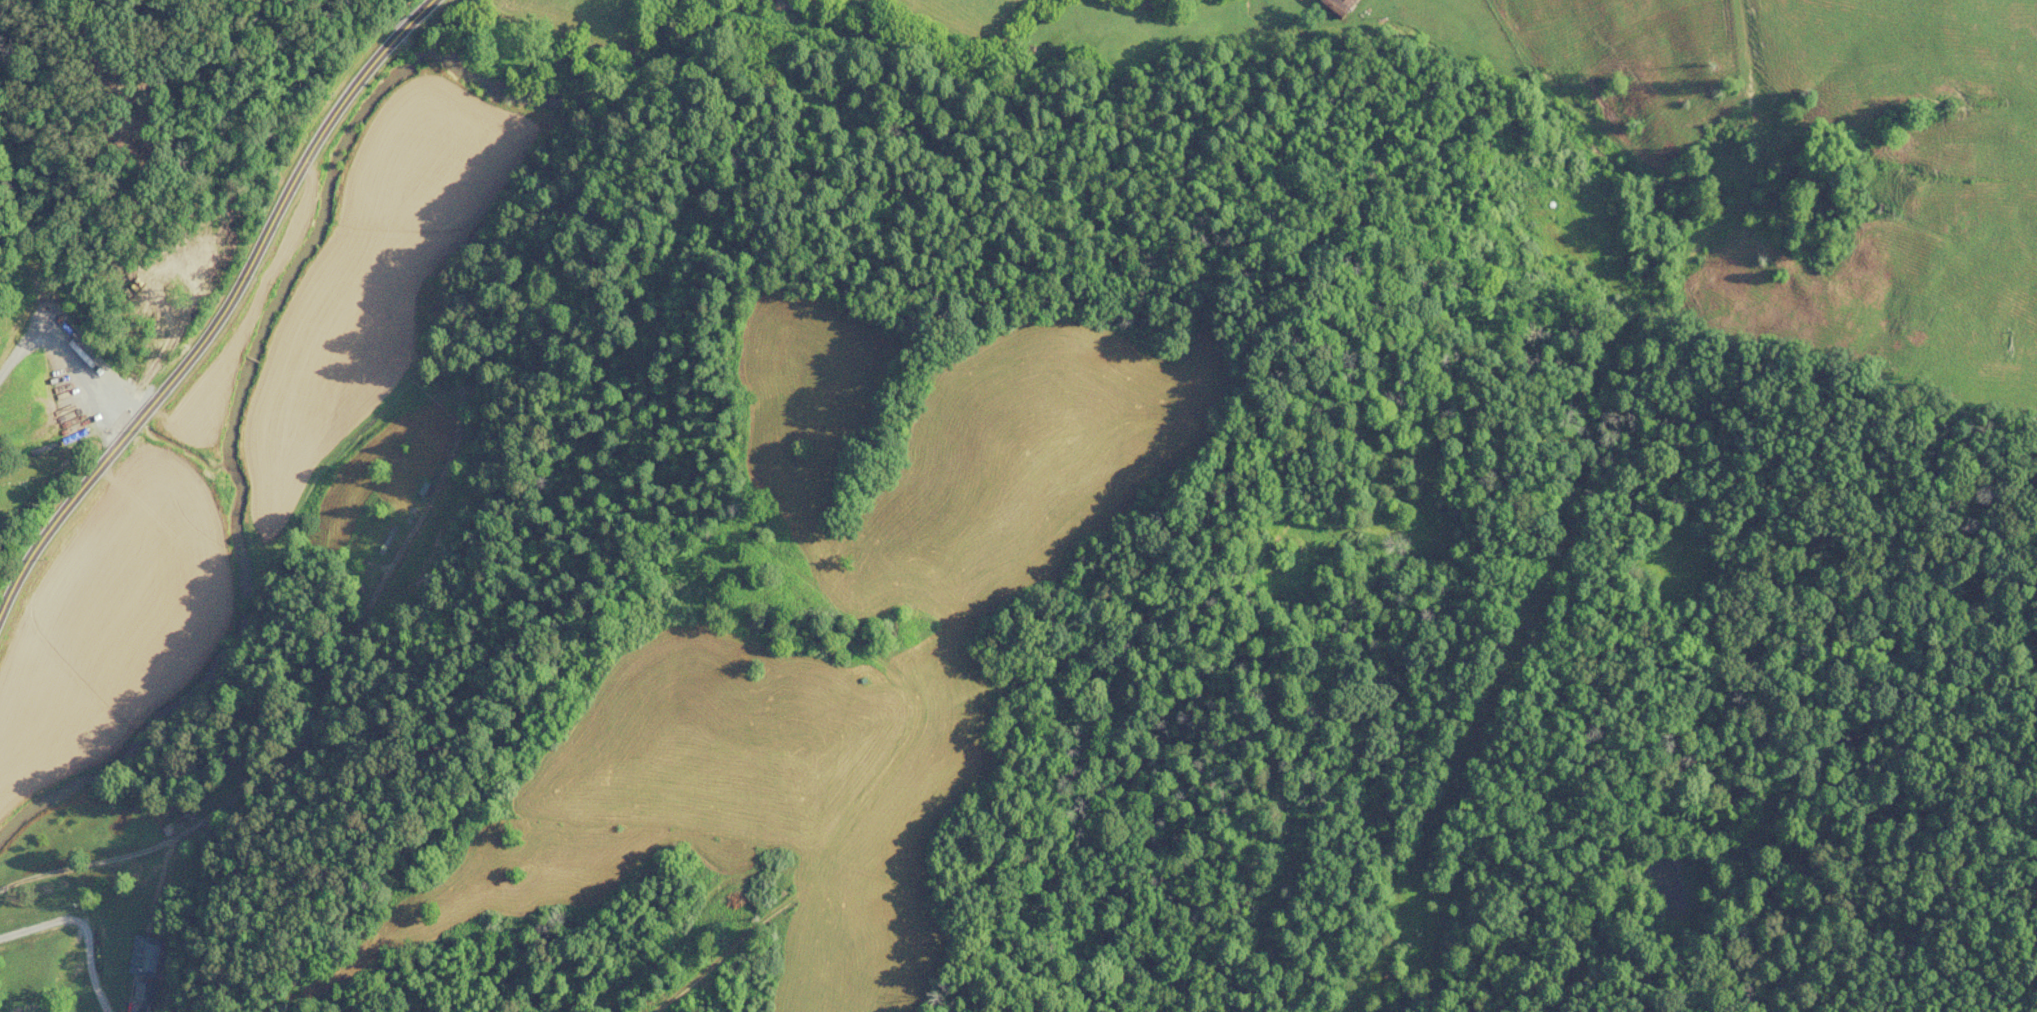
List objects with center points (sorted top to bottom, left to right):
road: (220, 305)
building: (136, 958)
building: (137, 990)

